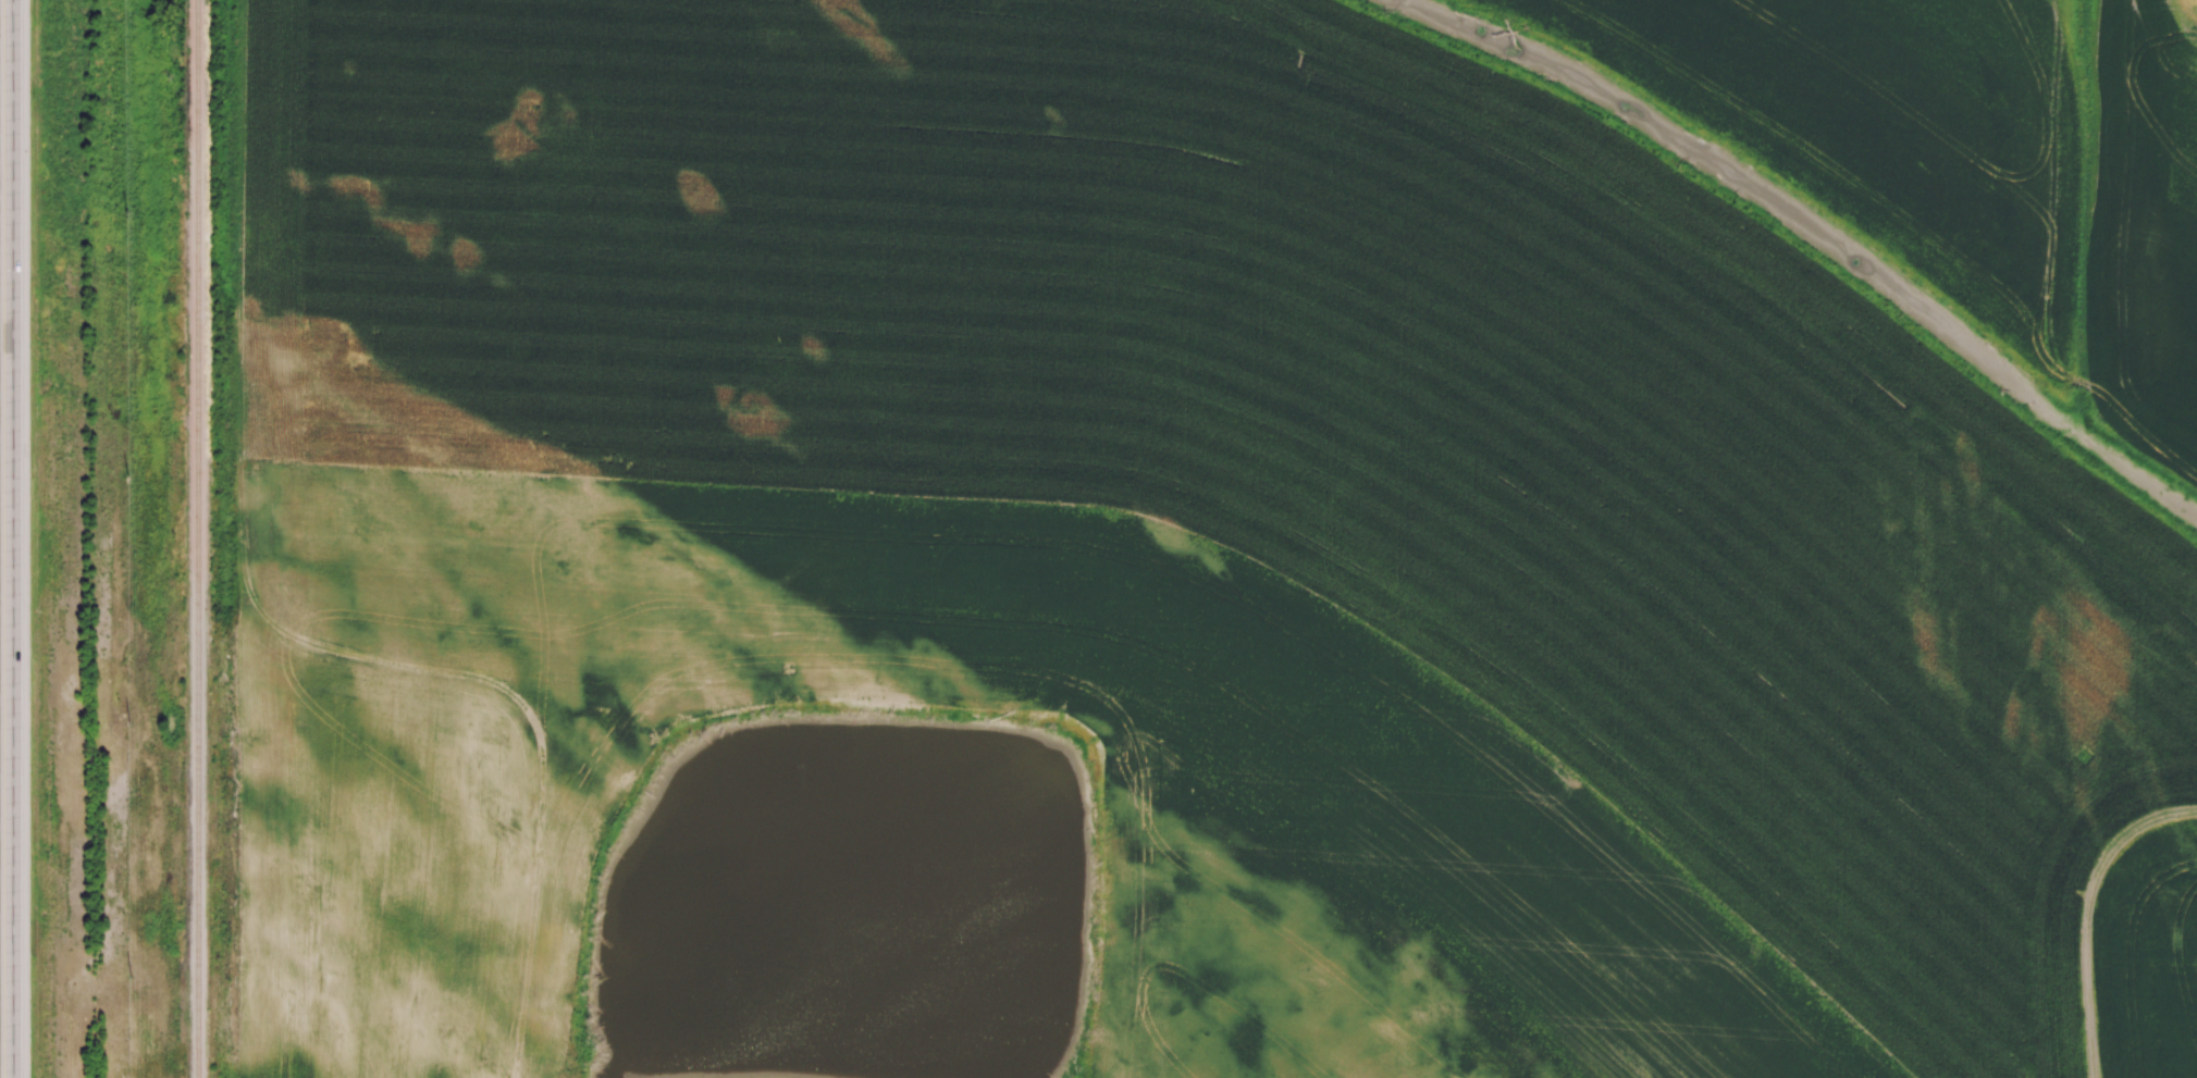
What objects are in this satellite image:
road: (13, 538)
railway: (198, 538)
road: (2088, 913)

